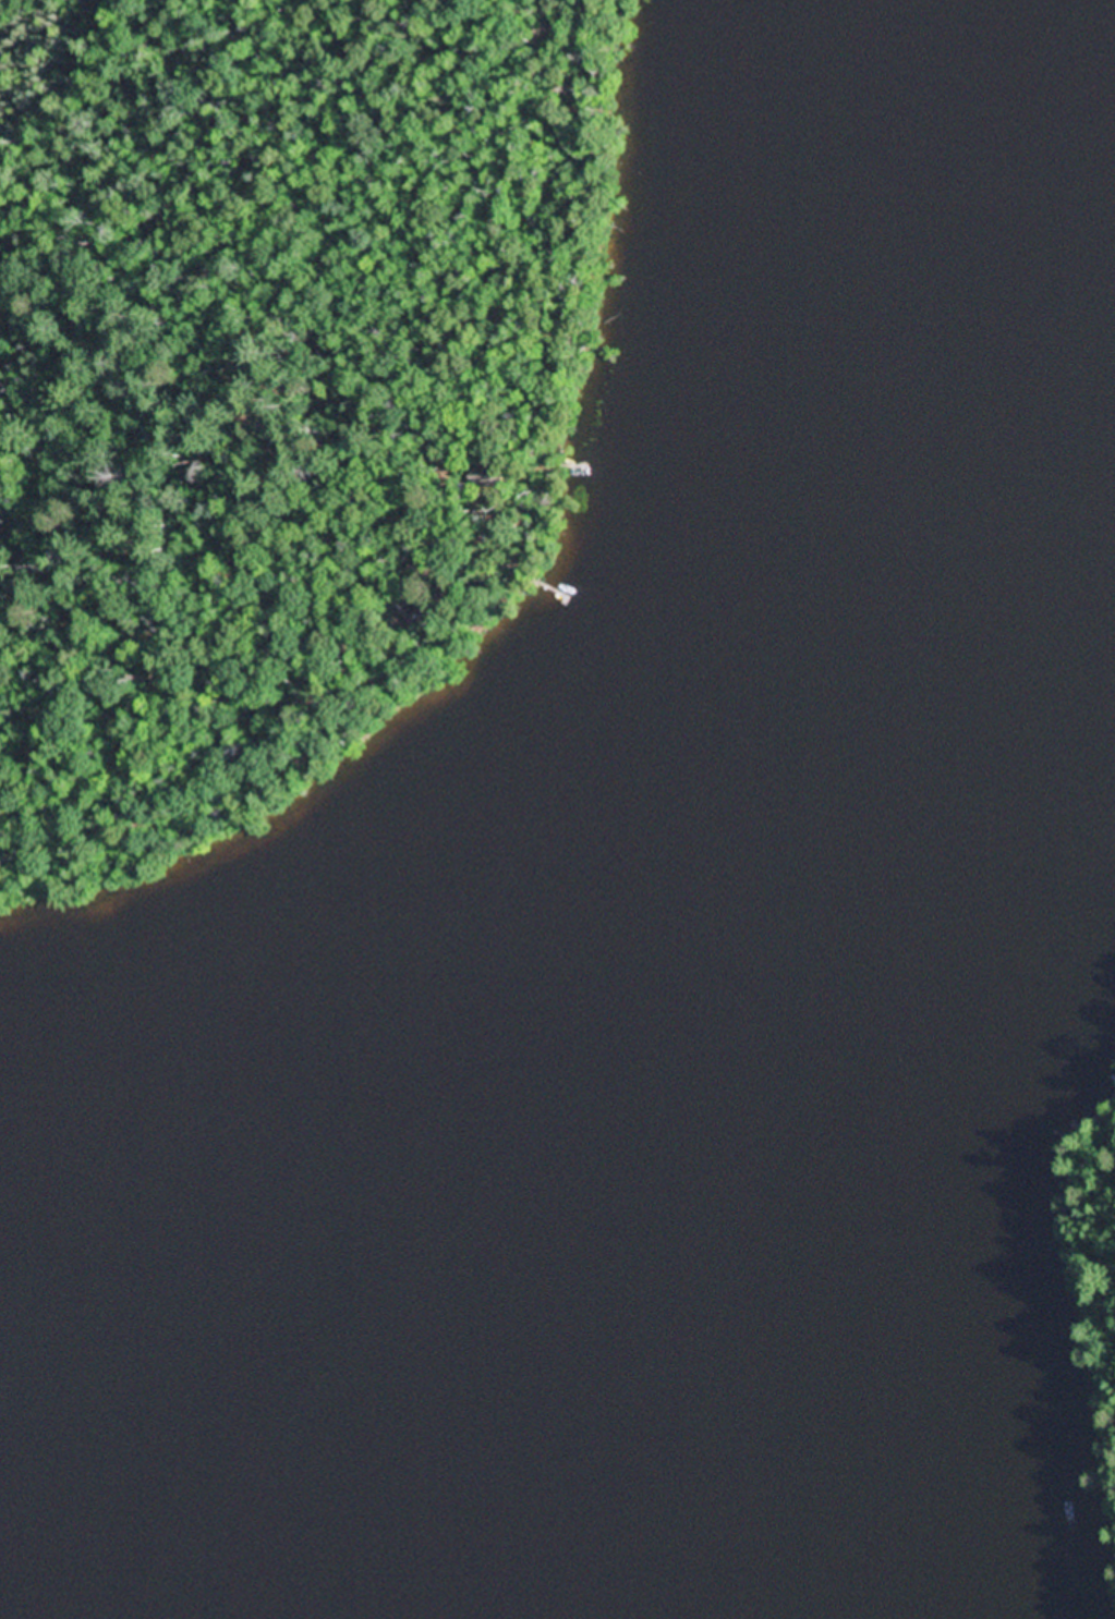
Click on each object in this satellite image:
building: (490, 476)
building: (404, 604)

